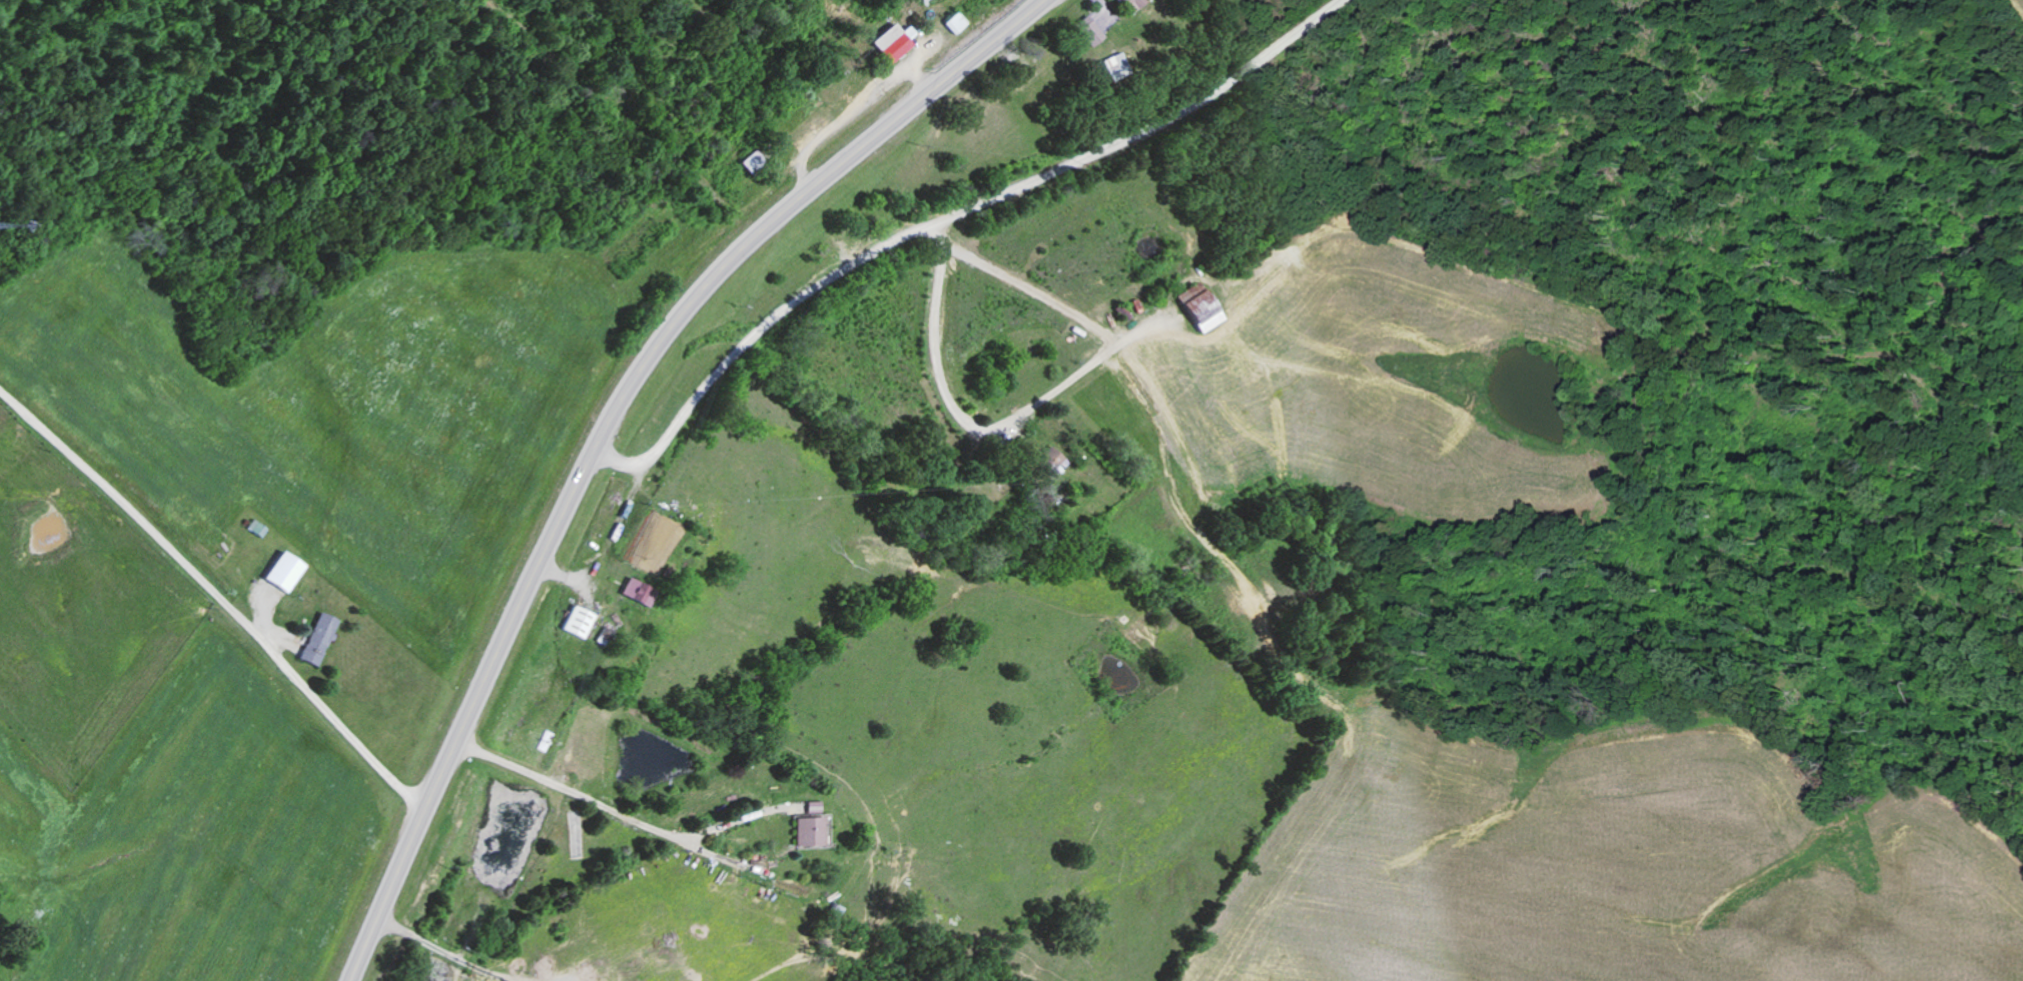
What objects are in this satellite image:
building: (1130, 4)
building: (953, 22)
building: (1088, 31)
building: (892, 42)
building: (1202, 308)
road: (790, 351)
road: (950, 414)
road: (608, 424)
building: (1050, 460)
building: (282, 572)
building: (635, 592)
road: (218, 597)
building: (577, 622)
building: (317, 640)
building: (804, 826)

